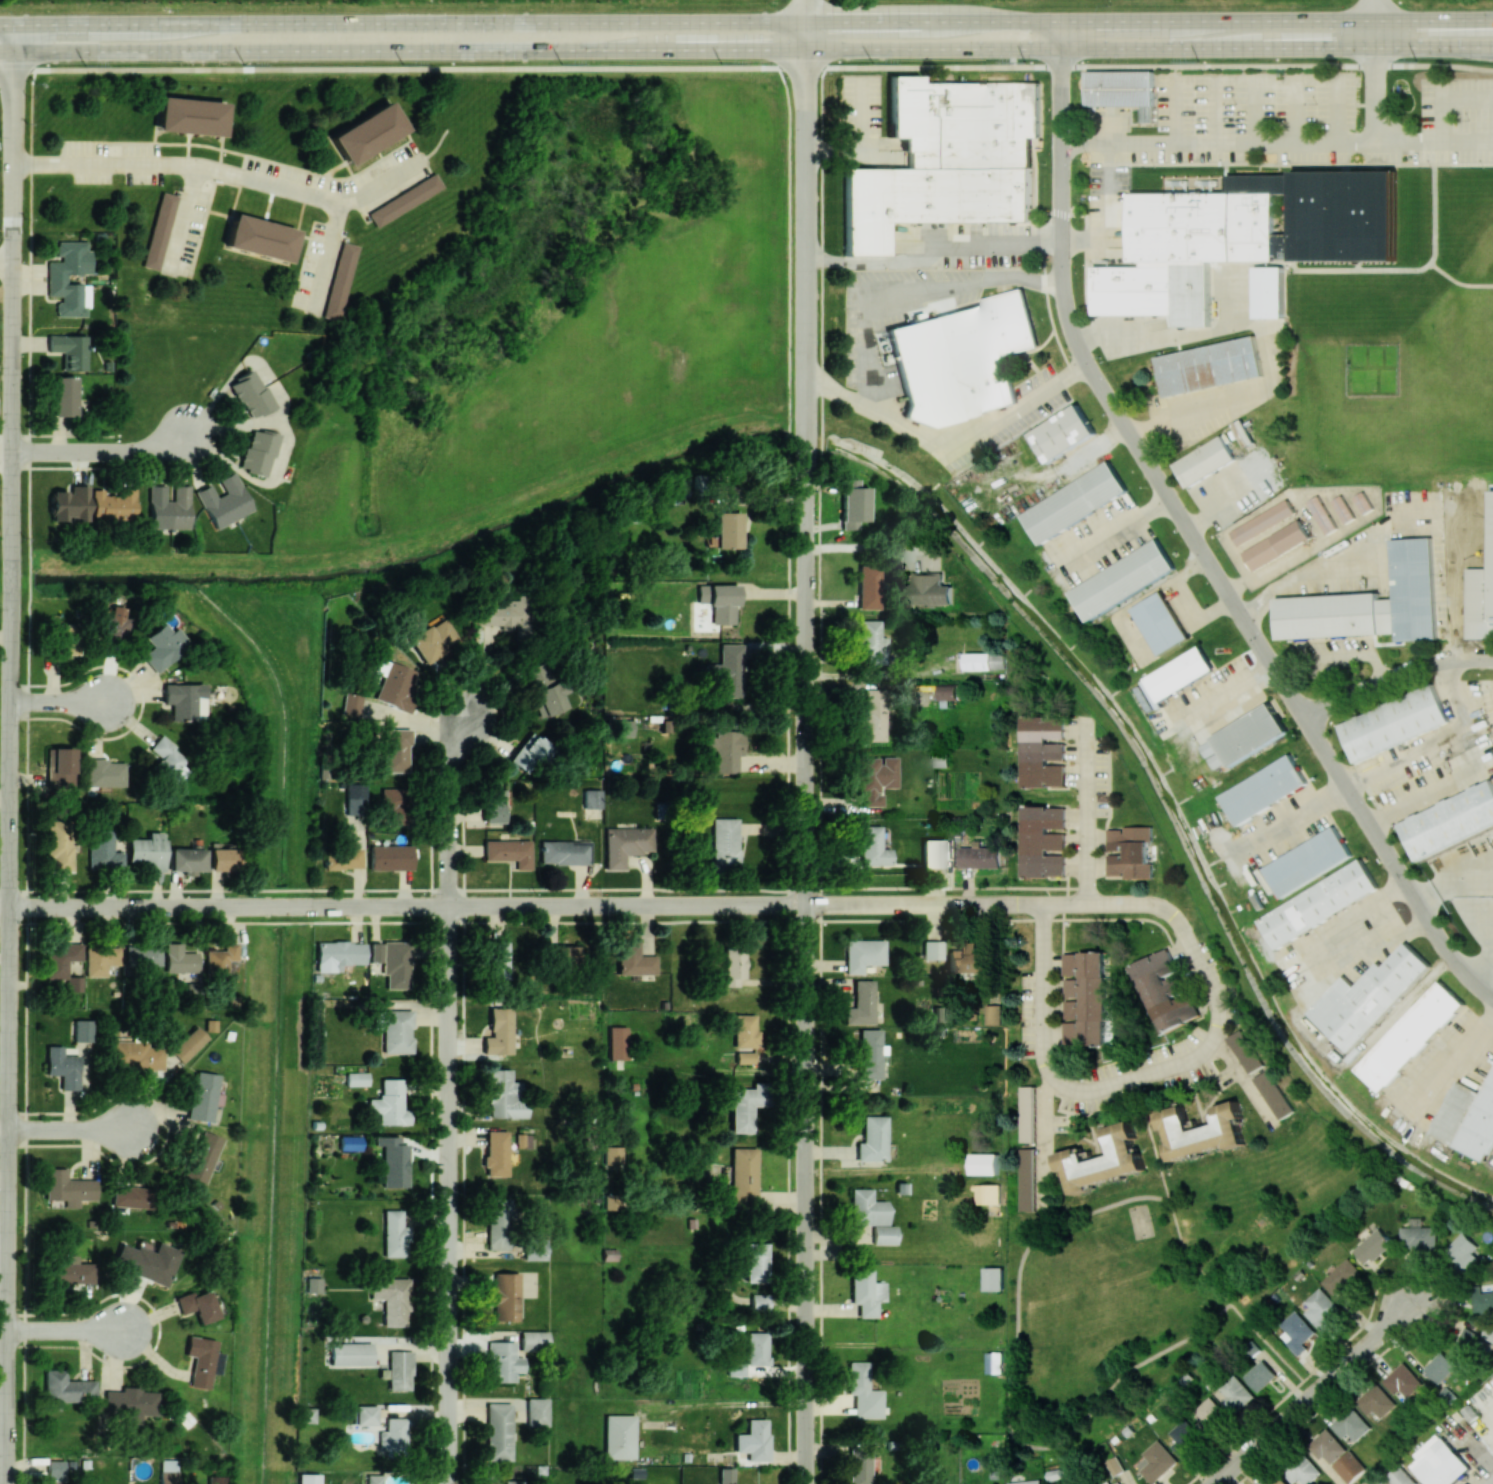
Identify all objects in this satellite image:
road: (1375, 10)
road: (805, 11)
road: (1149, 21)
road: (408, 24)
road: (5, 26)
road: (1149, 48)
road: (408, 50)
road: (5, 52)
power tower: (1198, 61)
power tower: (1416, 61)
power tower: (872, 62)
power tower: (1024, 62)
power tower: (561, 63)
power tower: (721, 63)
power tower: (244, 64)
power tower: (403, 64)
power tower: (85, 65)
road: (933, 66)
road: (1277, 66)
road: (402, 67)
building: (1122, 90)
road: (1452, 105)
building: (189, 116)
building: (366, 133)
road: (1279, 143)
road: (1410, 143)
road: (1469, 144)
building: (946, 160)
road: (224, 171)
building: (404, 200)
road: (1105, 209)
building: (159, 230)
building: (1243, 236)
building: (258, 238)
road: (328, 256)
road: (934, 258)
road: (6, 264)
building: (55, 279)
road: (1007, 280)
building: (339, 281)
building: (1269, 293)
road: (1259, 334)
road: (862, 344)
building: (69, 350)
building: (959, 358)
building: (1210, 364)
building: (250, 394)
building: (62, 396)
building: (1066, 431)
road: (979, 432)
building: (1244, 434)
building: (257, 451)
road: (103, 452)
road: (6, 453)
building: (1204, 460)
road: (806, 463)
building: (224, 501)
building: (1077, 501)
building: (1365, 501)
building: (69, 503)
building: (852, 504)
building: (113, 505)
building: (168, 507)
building: (1344, 508)
building: (1322, 513)
building: (1263, 521)
road: (1402, 525)
building: (728, 530)
road: (1119, 530)
road: (1193, 537)
building: (1276, 544)
road: (860, 546)
building: (1124, 579)
building: (868, 586)
building: (1416, 587)
building: (929, 589)
building: (1492, 599)
building: (505, 614)
building: (1328, 614)
building: (1160, 622)
building: (111, 624)
building: (64, 638)
building: (432, 640)
building: (870, 643)
building: (162, 647)
building: (985, 661)
building: (725, 672)
building: (1181, 673)
road: (1395, 677)
building: (397, 686)
building: (948, 691)
building: (550, 698)
building: (183, 701)
road: (65, 702)
building: (351, 704)
building: (872, 715)
building: (1393, 722)
building: (622, 728)
building: (1251, 734)
building: (724, 749)
building: (395, 750)
building: (1042, 751)
building: (529, 753)
road: (10, 754)
building: (168, 760)
building: (63, 766)
building: (105, 773)
building: (875, 778)
building: (1264, 790)
road: (1426, 797)
building: (592, 798)
building: (354, 799)
building: (392, 804)
building: (494, 806)
road: (449, 809)
road: (1088, 815)
building: (1449, 820)
building: (1042, 841)
building: (724, 844)
building: (59, 845)
building: (626, 845)
building: (871, 847)
building: (148, 850)
building: (103, 851)
building: (509, 851)
building: (565, 852)
building: (934, 852)
building: (1129, 852)
building: (341, 854)
building: (390, 857)
building: (979, 857)
building: (223, 858)
building: (186, 860)
building: (1308, 862)
building: (1320, 904)
road: (924, 905)
road: (1144, 905)
road: (402, 907)
building: (932, 950)
building: (373, 952)
building: (339, 953)
building: (564, 953)
building: (862, 954)
building: (100, 959)
building: (179, 959)
building: (495, 959)
building: (61, 960)
building: (220, 962)
building: (969, 963)
building: (395, 964)
building: (636, 964)
building: (733, 966)
building: (73, 984)
building: (1165, 990)
road: (1044, 995)
building: (1368, 997)
building: (1084, 999)
building: (860, 1004)
building: (993, 1014)
building: (394, 1030)
building: (744, 1030)
building: (82, 1031)
building: (498, 1032)
building: (1411, 1036)
building: (617, 1043)
building: (188, 1044)
building: (1247, 1050)
building: (1109, 1052)
building: (868, 1053)
building: (134, 1055)
building: (744, 1057)
road: (1452, 1061)
building: (61, 1067)
road: (1171, 1067)
building: (356, 1079)
building: (1274, 1094)
building: (202, 1096)
building: (504, 1096)
building: (389, 1103)
building: (744, 1107)
building: (1027, 1114)
building: (1469, 1121)
road: (76, 1129)
building: (1202, 1131)
road: (1043, 1138)
building: (871, 1139)
building: (349, 1143)
building: (495, 1153)
building: (589, 1154)
building: (613, 1155)
building: (202, 1157)
building: (1103, 1160)
building: (392, 1161)
building: (984, 1164)
building: (742, 1177)
building: (1027, 1179)
building: (67, 1188)
road: (804, 1194)
building: (995, 1194)
road: (449, 1195)
building: (129, 1197)
building: (871, 1216)
building: (498, 1223)
building: (394, 1234)
building: (1418, 1238)
building: (534, 1247)
building: (1372, 1247)
road: (4, 1250)
building: (1462, 1251)
building: (147, 1262)
building: (756, 1262)
building: (66, 1274)
building: (994, 1279)
building: (1344, 1280)
building: (312, 1284)
building: (865, 1292)
building: (504, 1296)
building: (391, 1299)
building: (1481, 1300)
building: (759, 1302)
building: (196, 1305)
building: (1322, 1309)
road: (68, 1330)
building: (1297, 1332)
building: (1488, 1332)
building: (1467, 1343)
building: (755, 1350)
building: (350, 1354)
building: (201, 1360)
building: (1439, 1367)
building: (399, 1370)
building: (1260, 1375)
building: (1402, 1381)
building: (66, 1388)
building: (862, 1392)
road: (1312, 1393)
building: (1235, 1394)
building: (1376, 1401)
building: (130, 1403)
road: (721, 1404)
building: (536, 1412)
building: (306, 1415)
building: (364, 1415)
building: (1210, 1415)
building: (1350, 1424)
building: (498, 1432)
building: (392, 1435)
building: (619, 1436)
building: (1184, 1437)
building: (753, 1440)
building: (1326, 1446)
building: (1157, 1461)
building: (1441, 1465)
building: (859, 1466)
building: (1349, 1467)
building: (55, 1470)
building: (1301, 1470)
building: (168, 1471)
building: (725, 1476)
building: (1400, 1477)
building: (307, 1478)
building: (215, 1479)
building: (373, 1479)
building: (1275, 1480)
building: (513, 1482)
building: (1027, 1482)
building: (1119, 1483)

